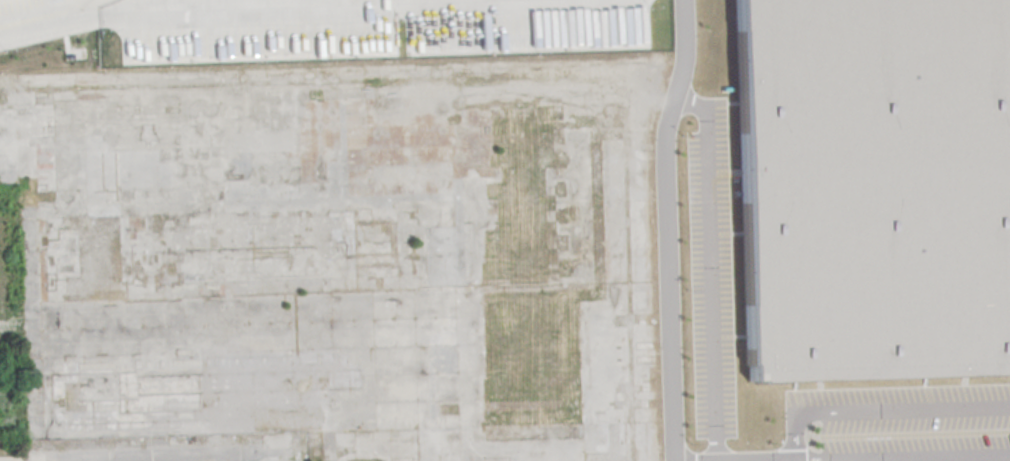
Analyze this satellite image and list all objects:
road: (41, 17)
parking lot: (364, 27)
building: (872, 190)
road: (670, 228)
road: (713, 272)
road: (882, 416)
road: (198, 455)
road: (990, 460)

